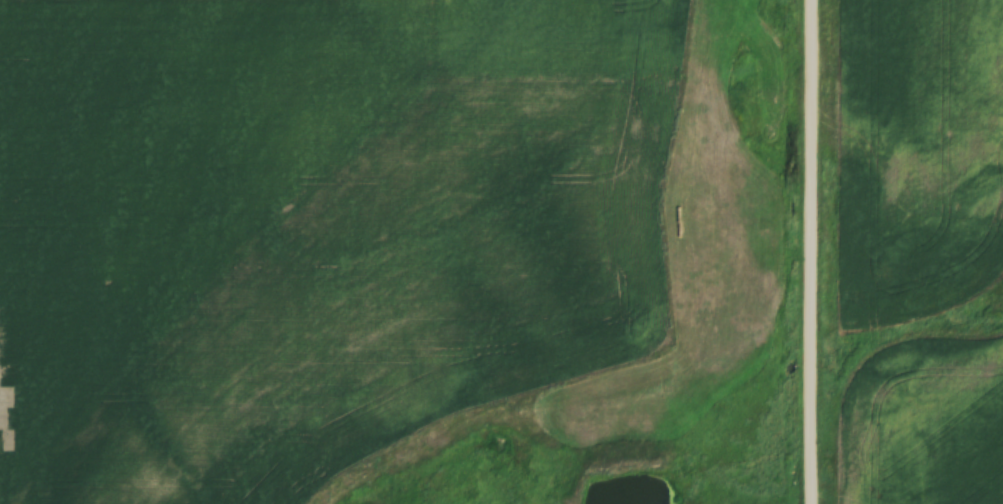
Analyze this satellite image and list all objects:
road: (815, 252)

